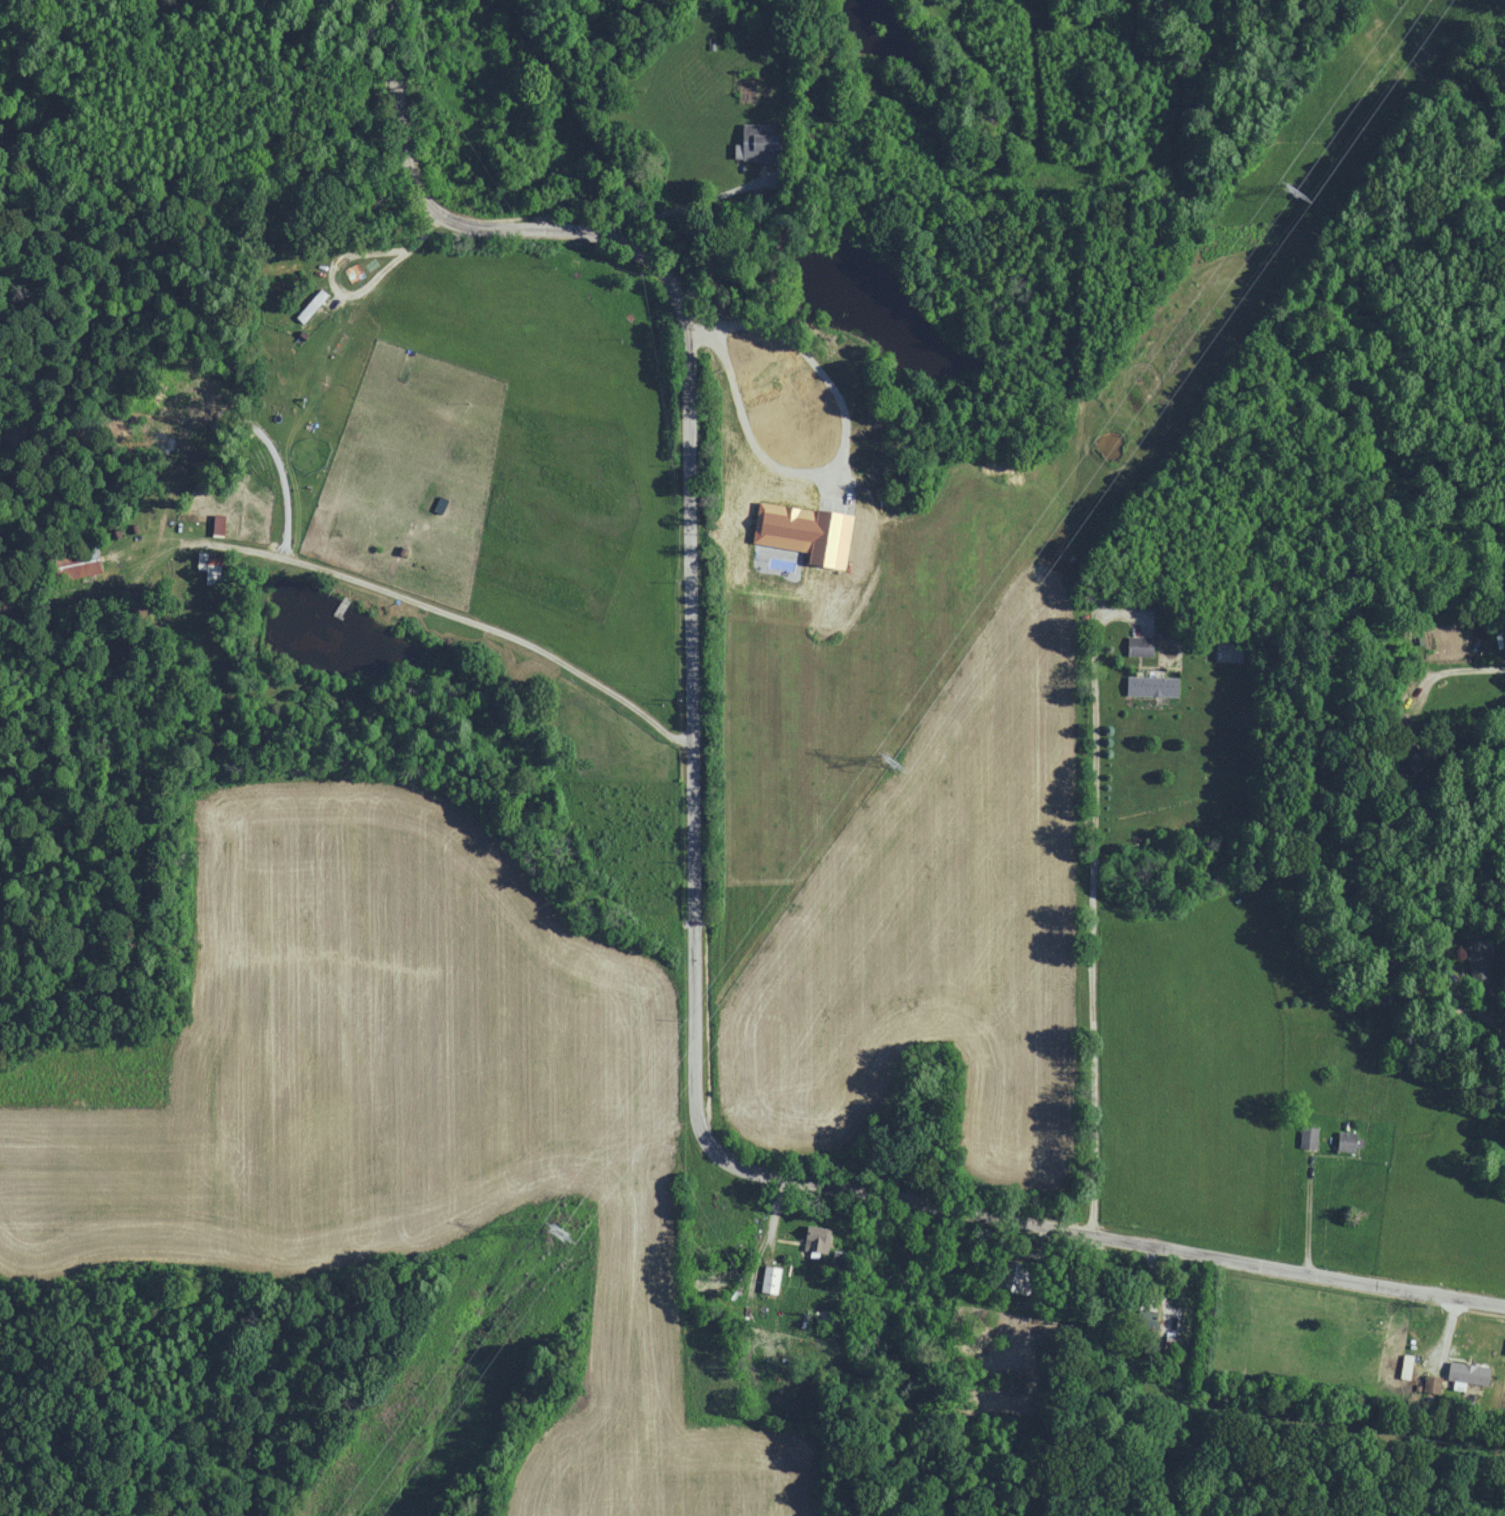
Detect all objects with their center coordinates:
building: (759, 145)
power tower: (1288, 193)
road: (691, 204)
road: (365, 301)
building: (314, 305)
road: (825, 467)
building: (219, 524)
building: (808, 532)
building: (210, 568)
road: (348, 584)
building: (1138, 645)
road: (1453, 667)
building: (1150, 685)
power tower: (884, 762)
road: (691, 879)
road: (1094, 893)
road: (1497, 1024)
building: (1306, 1137)
building: (1345, 1141)
road: (1308, 1212)
power tower: (559, 1233)
building: (818, 1239)
building: (1021, 1276)
building: (772, 1279)
road: (1447, 1334)
building: (1403, 1366)
building: (1465, 1372)
building: (1430, 1384)

